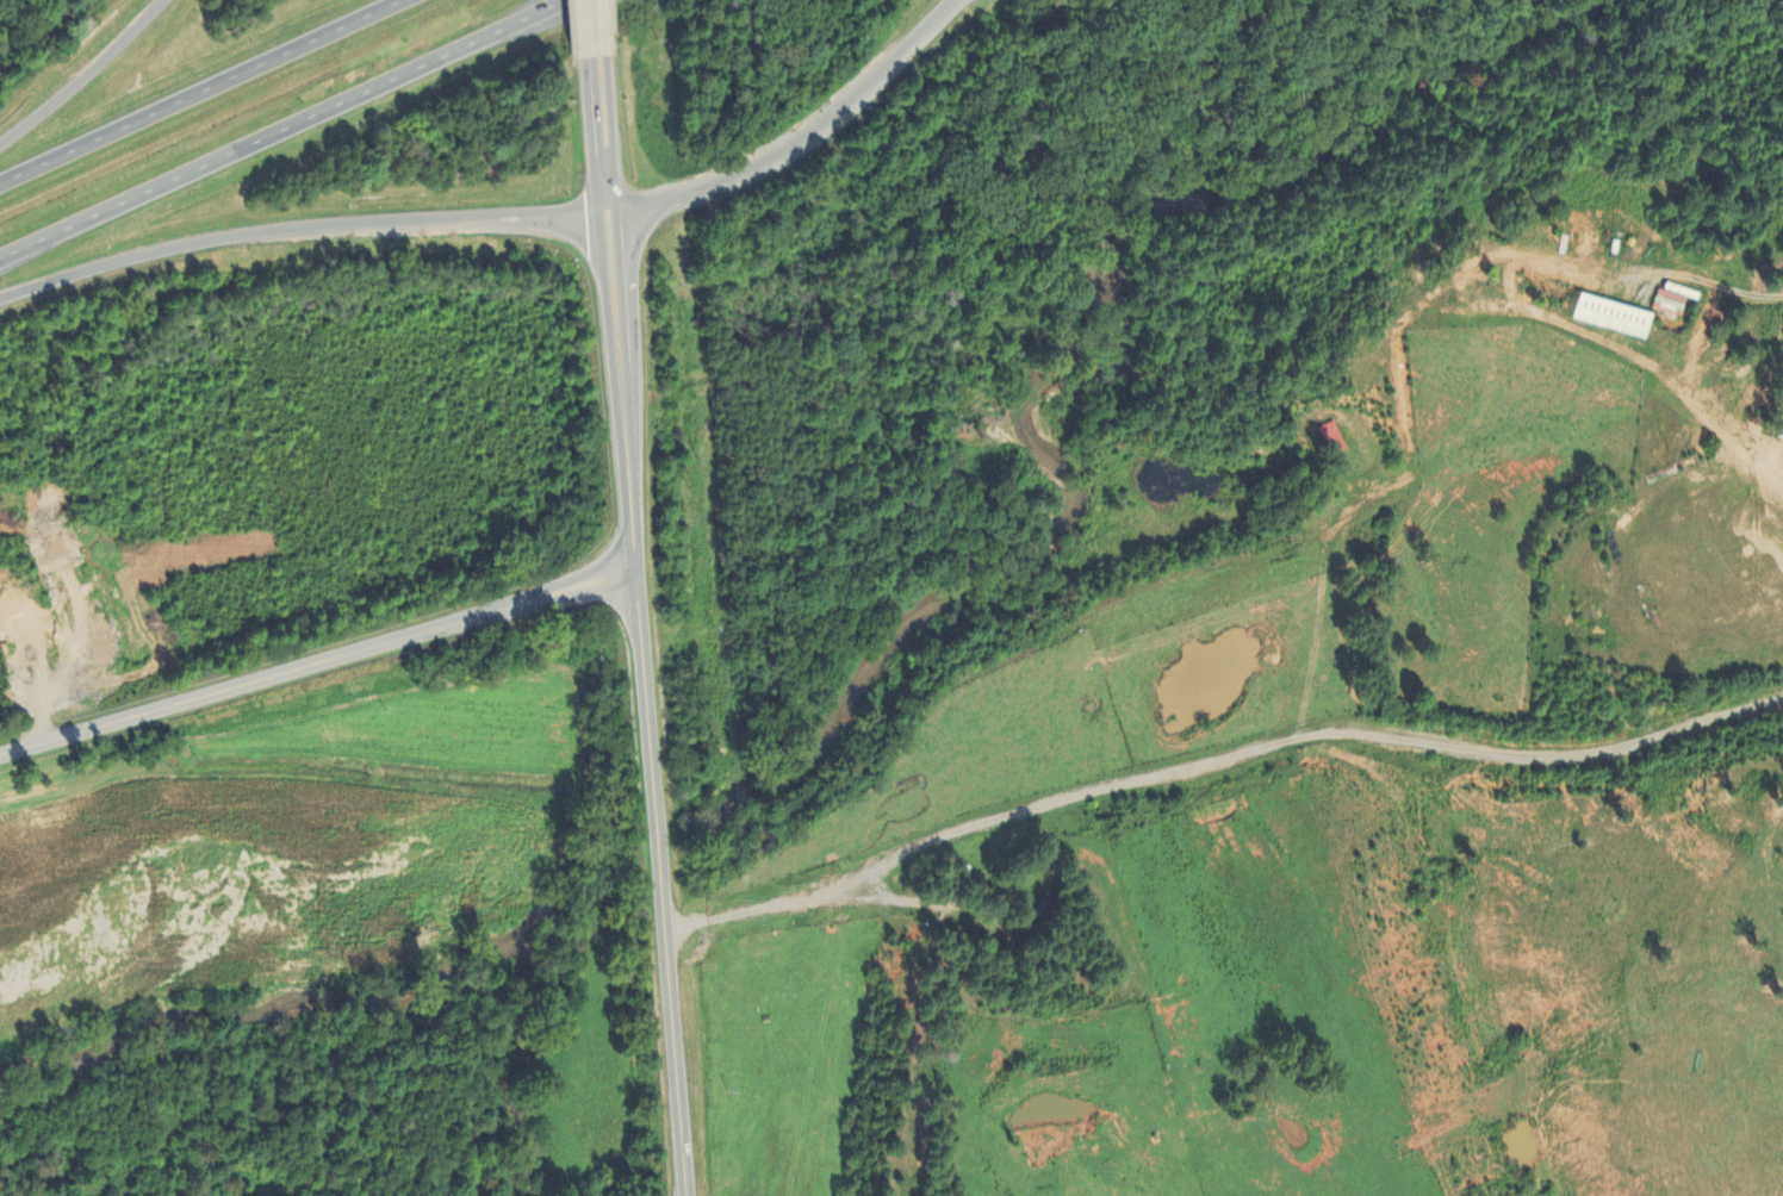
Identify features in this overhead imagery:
road: (592, 31)
road: (85, 76)
road: (206, 95)
road: (288, 133)
road: (800, 138)
road: (299, 228)
building: (1610, 318)
building: (1329, 440)
road: (644, 629)
road: (319, 655)
road: (1216, 758)

